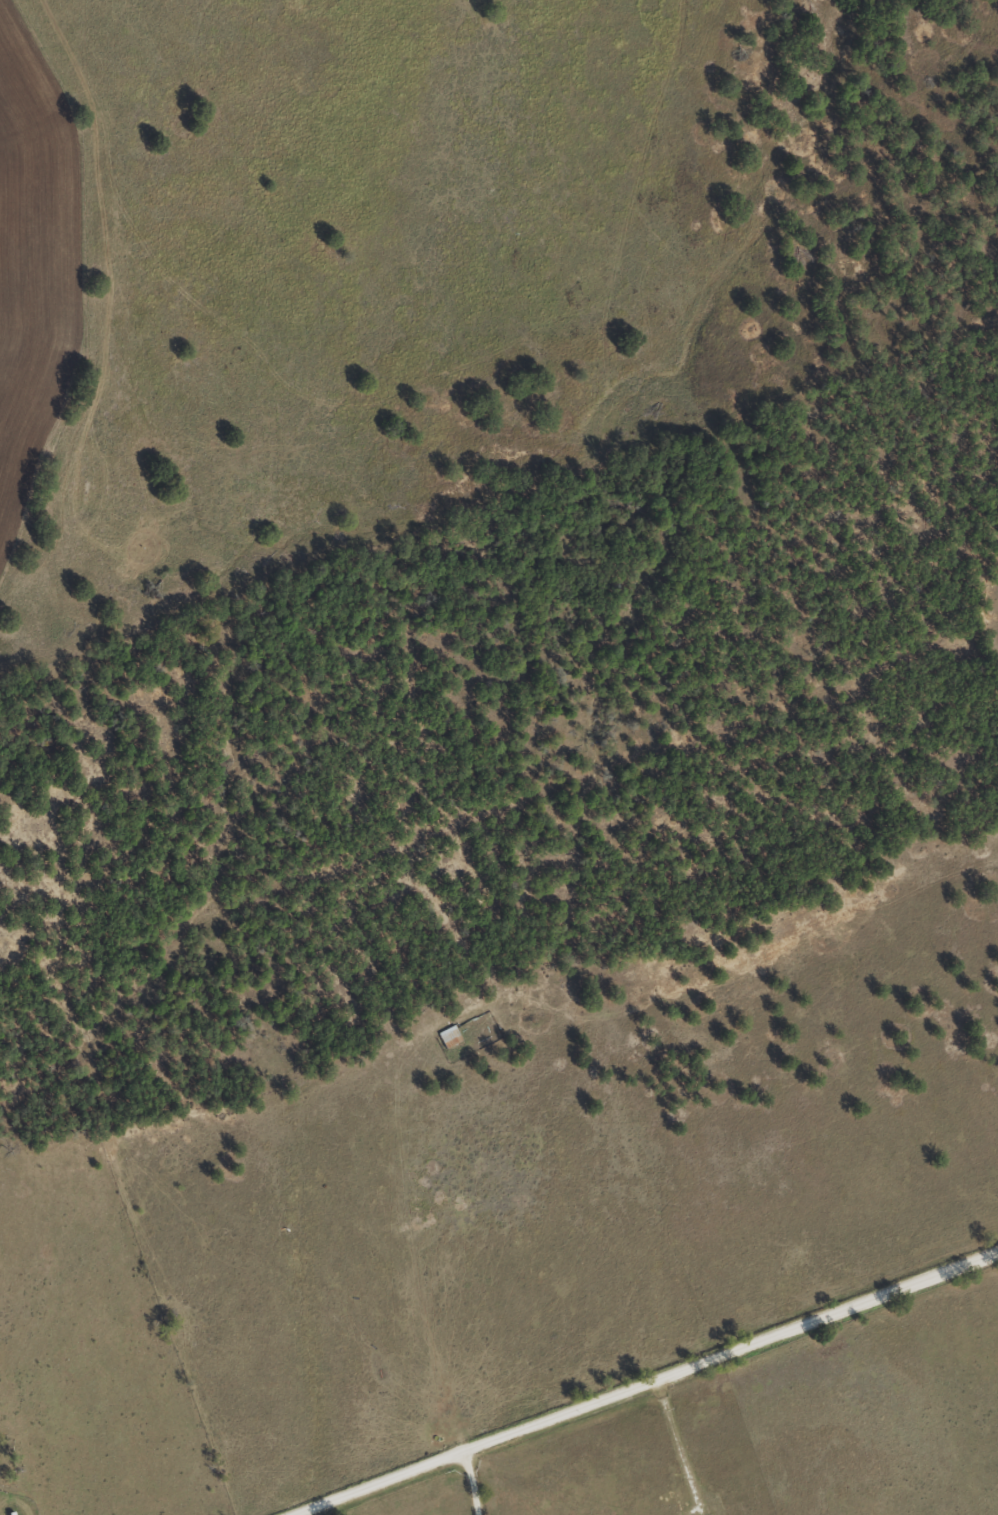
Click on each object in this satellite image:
building: (449, 1036)
road: (876, 1290)
road: (510, 1425)
road: (793, 1425)

